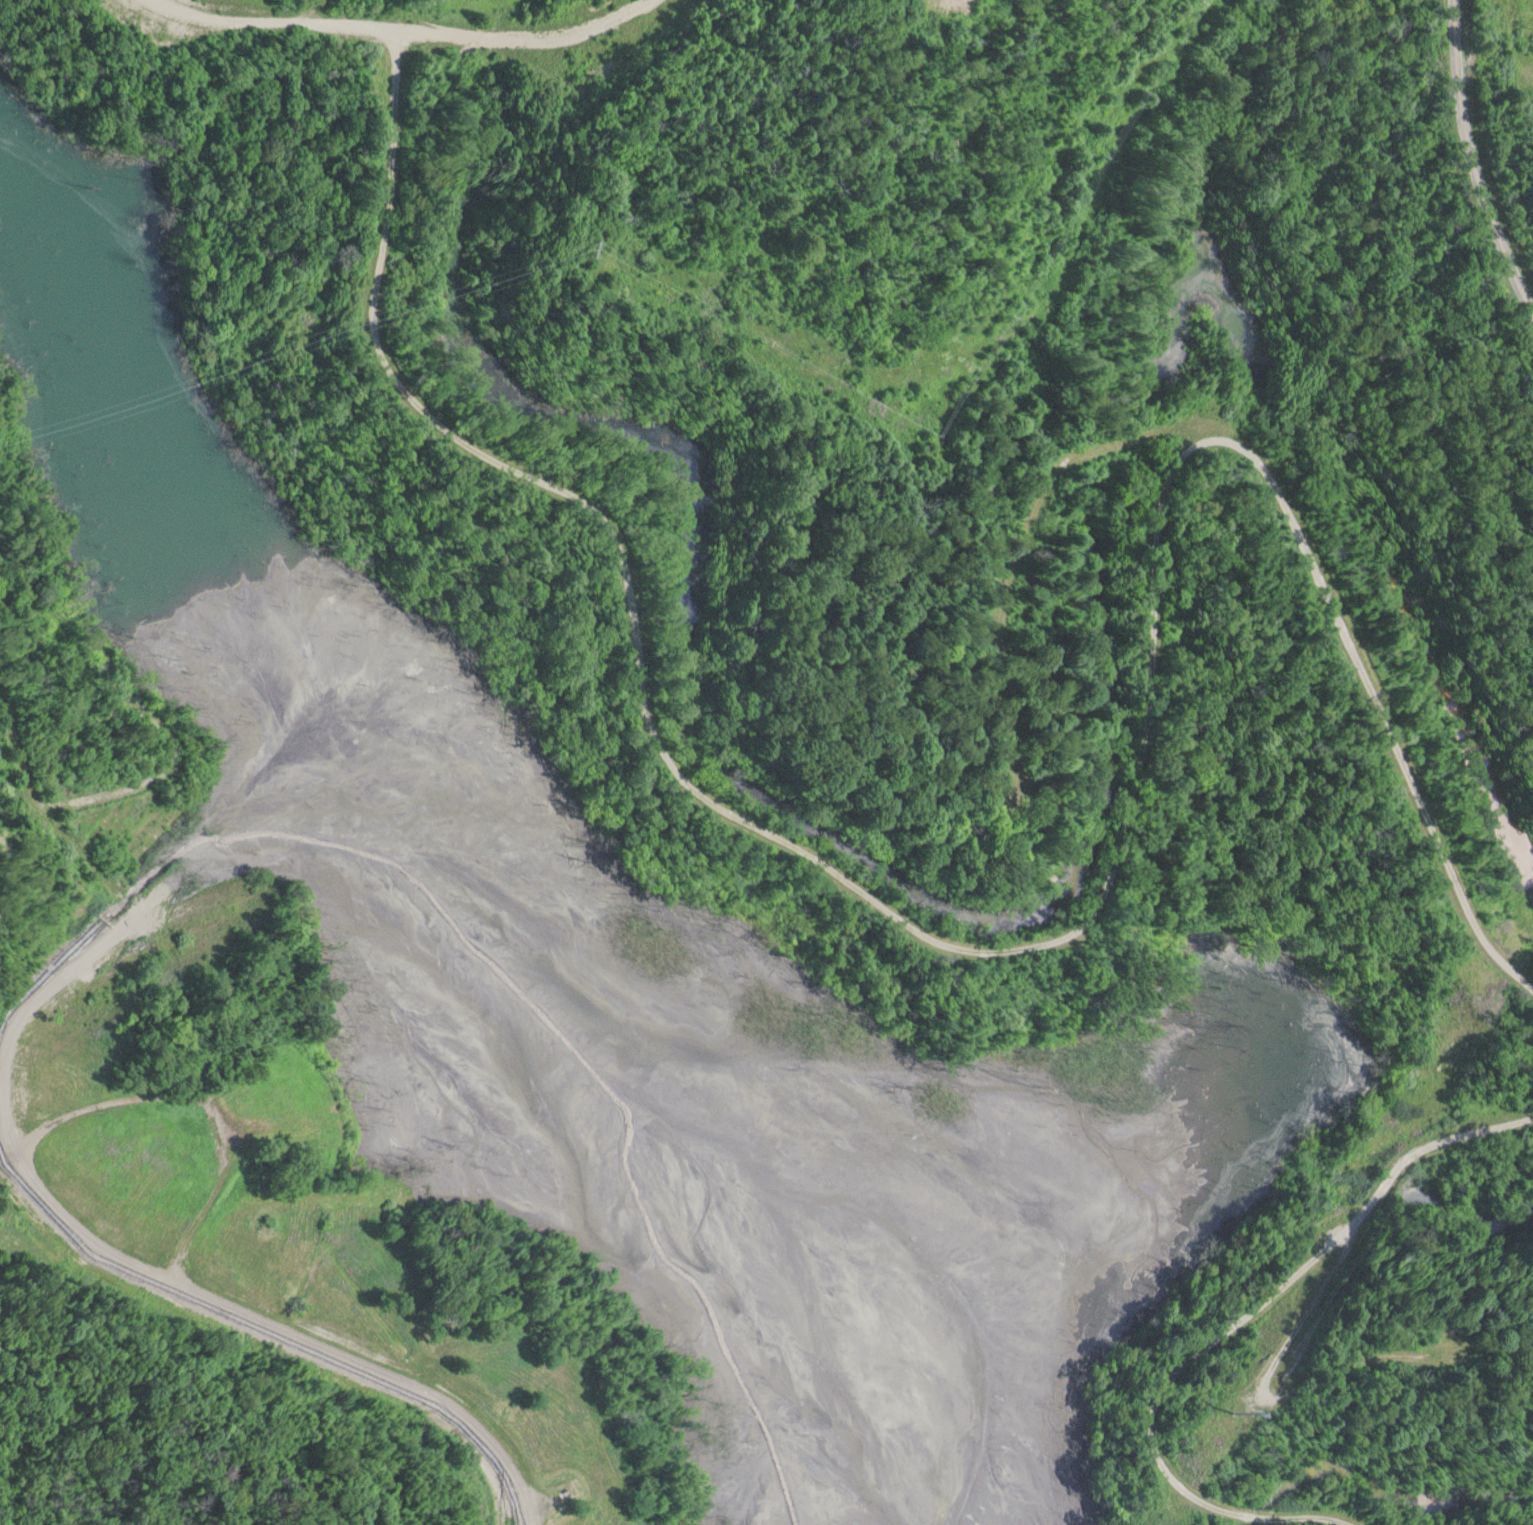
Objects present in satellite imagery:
road: (1474, 160)
power tower: (1223, 1427)

